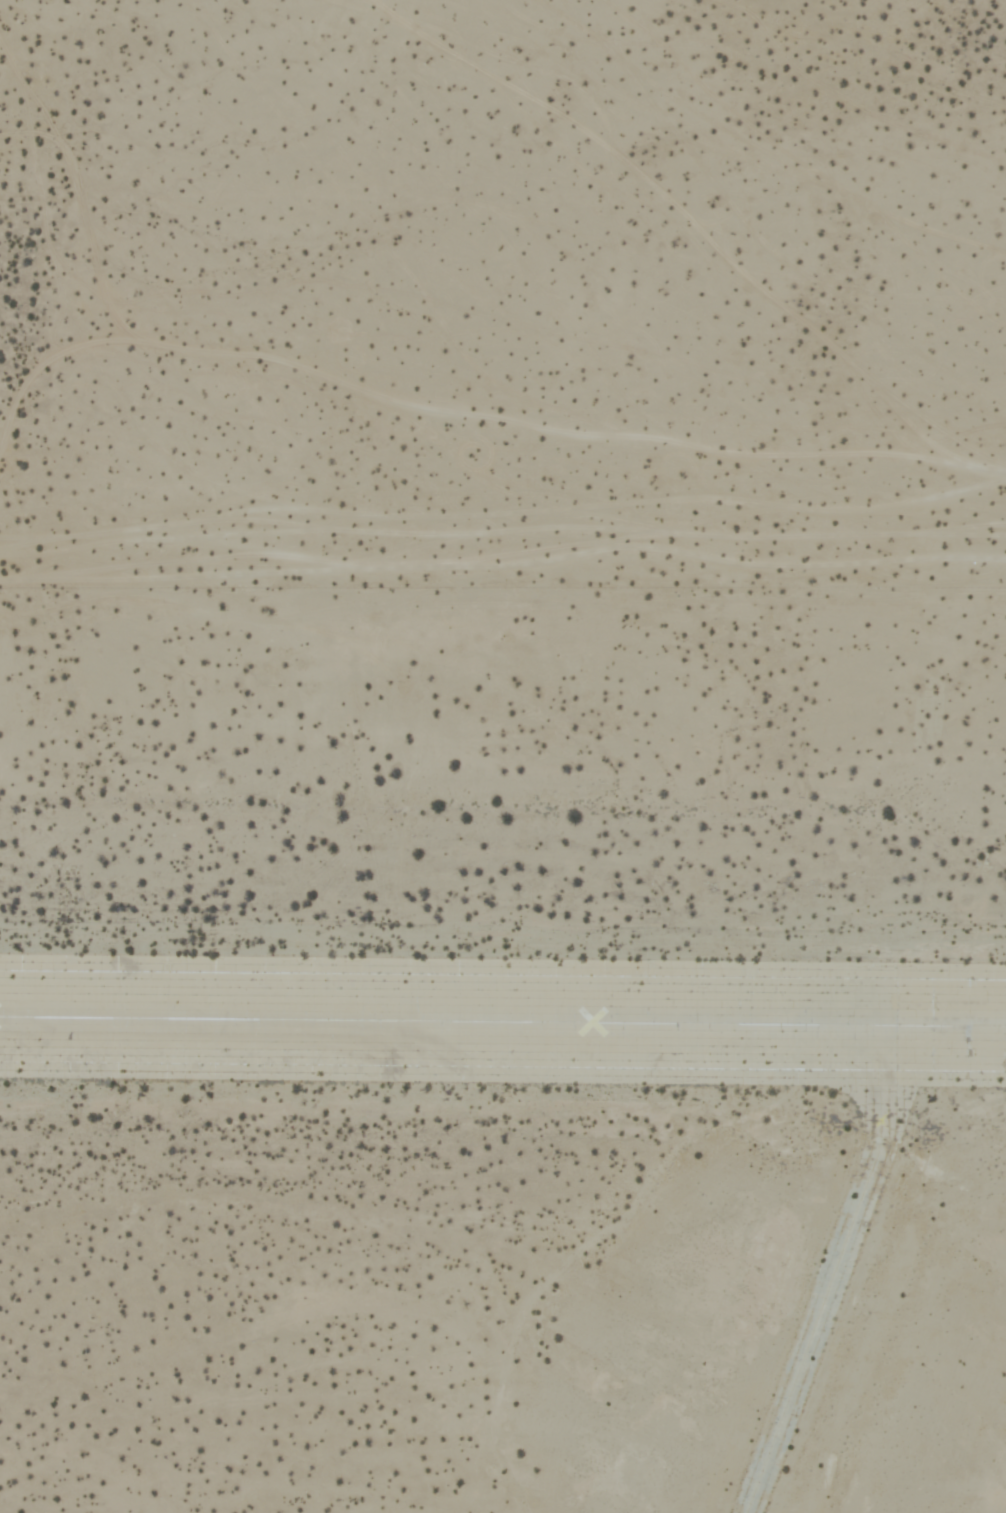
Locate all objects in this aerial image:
airport runway: (503, 1019)

